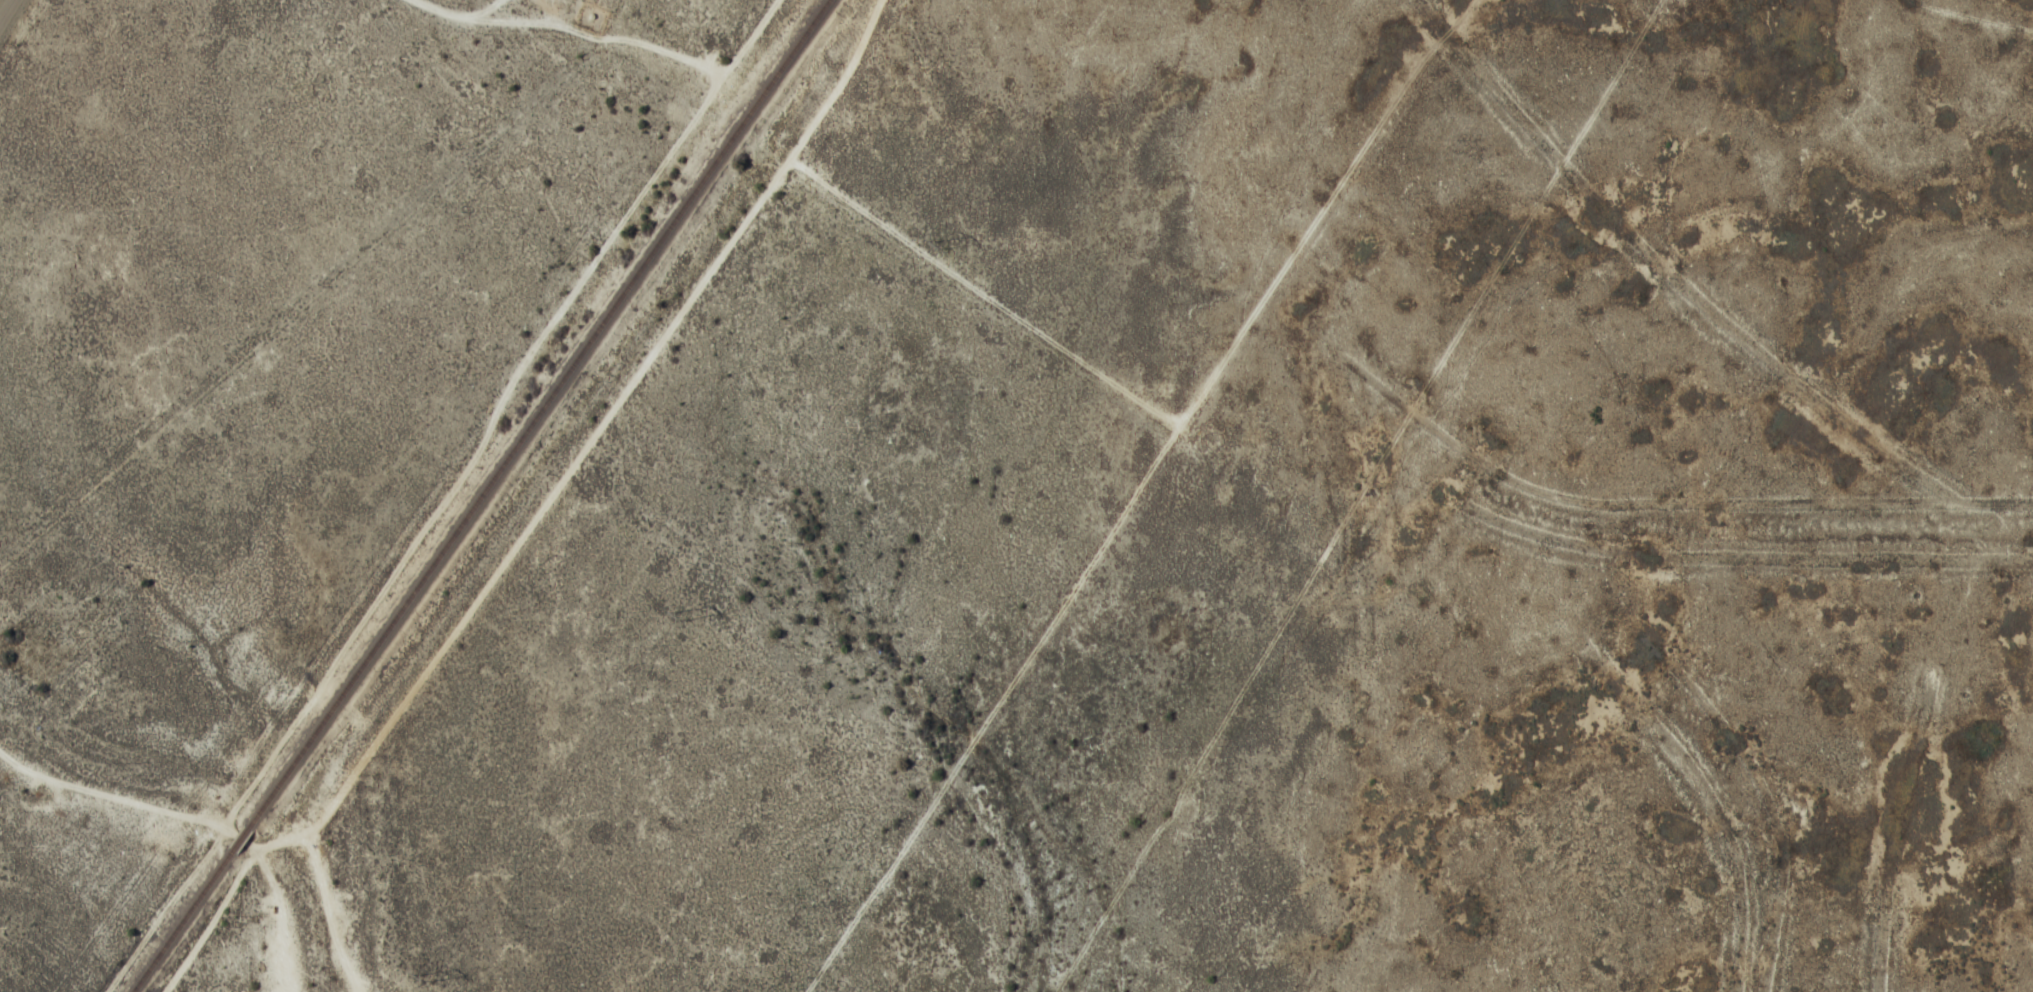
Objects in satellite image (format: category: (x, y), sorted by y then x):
road: (9, 14)
power tower: (940, 243)
railway: (537, 413)
road: (535, 488)
power tower: (680, 614)
road: (169, 713)
railway: (239, 839)
railway: (181, 921)
power tower: (426, 977)

